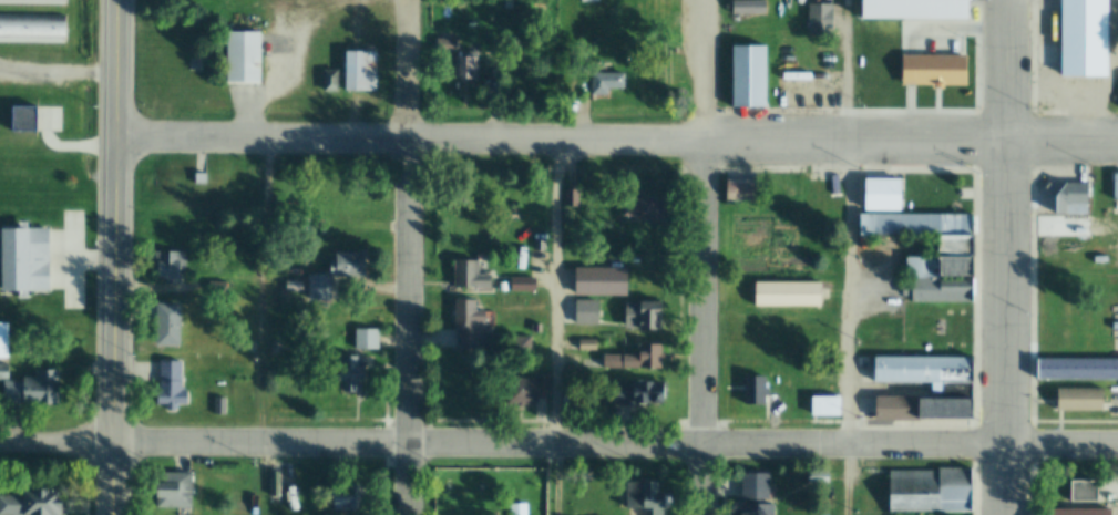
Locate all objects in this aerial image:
building: (34, 1)
building: (592, 1)
building: (750, 7)
building: (921, 10)
building: (821, 19)
building: (32, 28)
building: (1088, 39)
building: (448, 44)
building: (923, 56)
building: (249, 59)
building: (471, 68)
road: (699, 70)
road: (57, 71)
road: (414, 71)
building: (363, 72)
building: (752, 76)
building: (332, 81)
building: (608, 82)
building: (24, 120)
road: (615, 141)
building: (206, 179)
building: (1117, 188)
building: (741, 190)
building: (884, 195)
building: (340, 198)
building: (573, 198)
building: (824, 202)
building: (647, 209)
building: (913, 226)
building: (1069, 228)
building: (755, 243)
building: (539, 247)
building: (953, 247)
road: (116, 257)
road: (853, 257)
road: (1012, 257)
building: (23, 260)
building: (353, 266)
building: (172, 267)
building: (935, 268)
building: (473, 276)
building: (524, 285)
building: (218, 288)
building: (297, 288)
building: (324, 289)
building: (935, 291)
building: (790, 296)
building: (589, 313)
building: (646, 316)
building: (172, 325)
building: (473, 326)
road: (704, 327)
road: (417, 328)
building: (536, 329)
building: (4, 342)
building: (240, 344)
building: (589, 346)
building: (522, 347)
building: (647, 358)
building: (243, 362)
building: (614, 362)
building: (1080, 369)
building: (920, 370)
building: (4, 372)
building: (357, 375)
building: (173, 385)
building: (34, 390)
building: (530, 391)
building: (759, 391)
building: (953, 391)
building: (655, 393)
building: (1084, 400)
parking lot: (1114, 403)
building: (222, 406)
building: (277, 406)
building: (831, 408)
building: (894, 409)
building: (944, 409)
road: (558, 446)
building: (823, 478)
building: (759, 483)
building: (176, 486)
building: (934, 492)
building: (1091, 493)
building: (352, 498)
building: (650, 498)
building: (33, 504)
building: (521, 508)
building: (760, 509)
building: (1081, 513)

